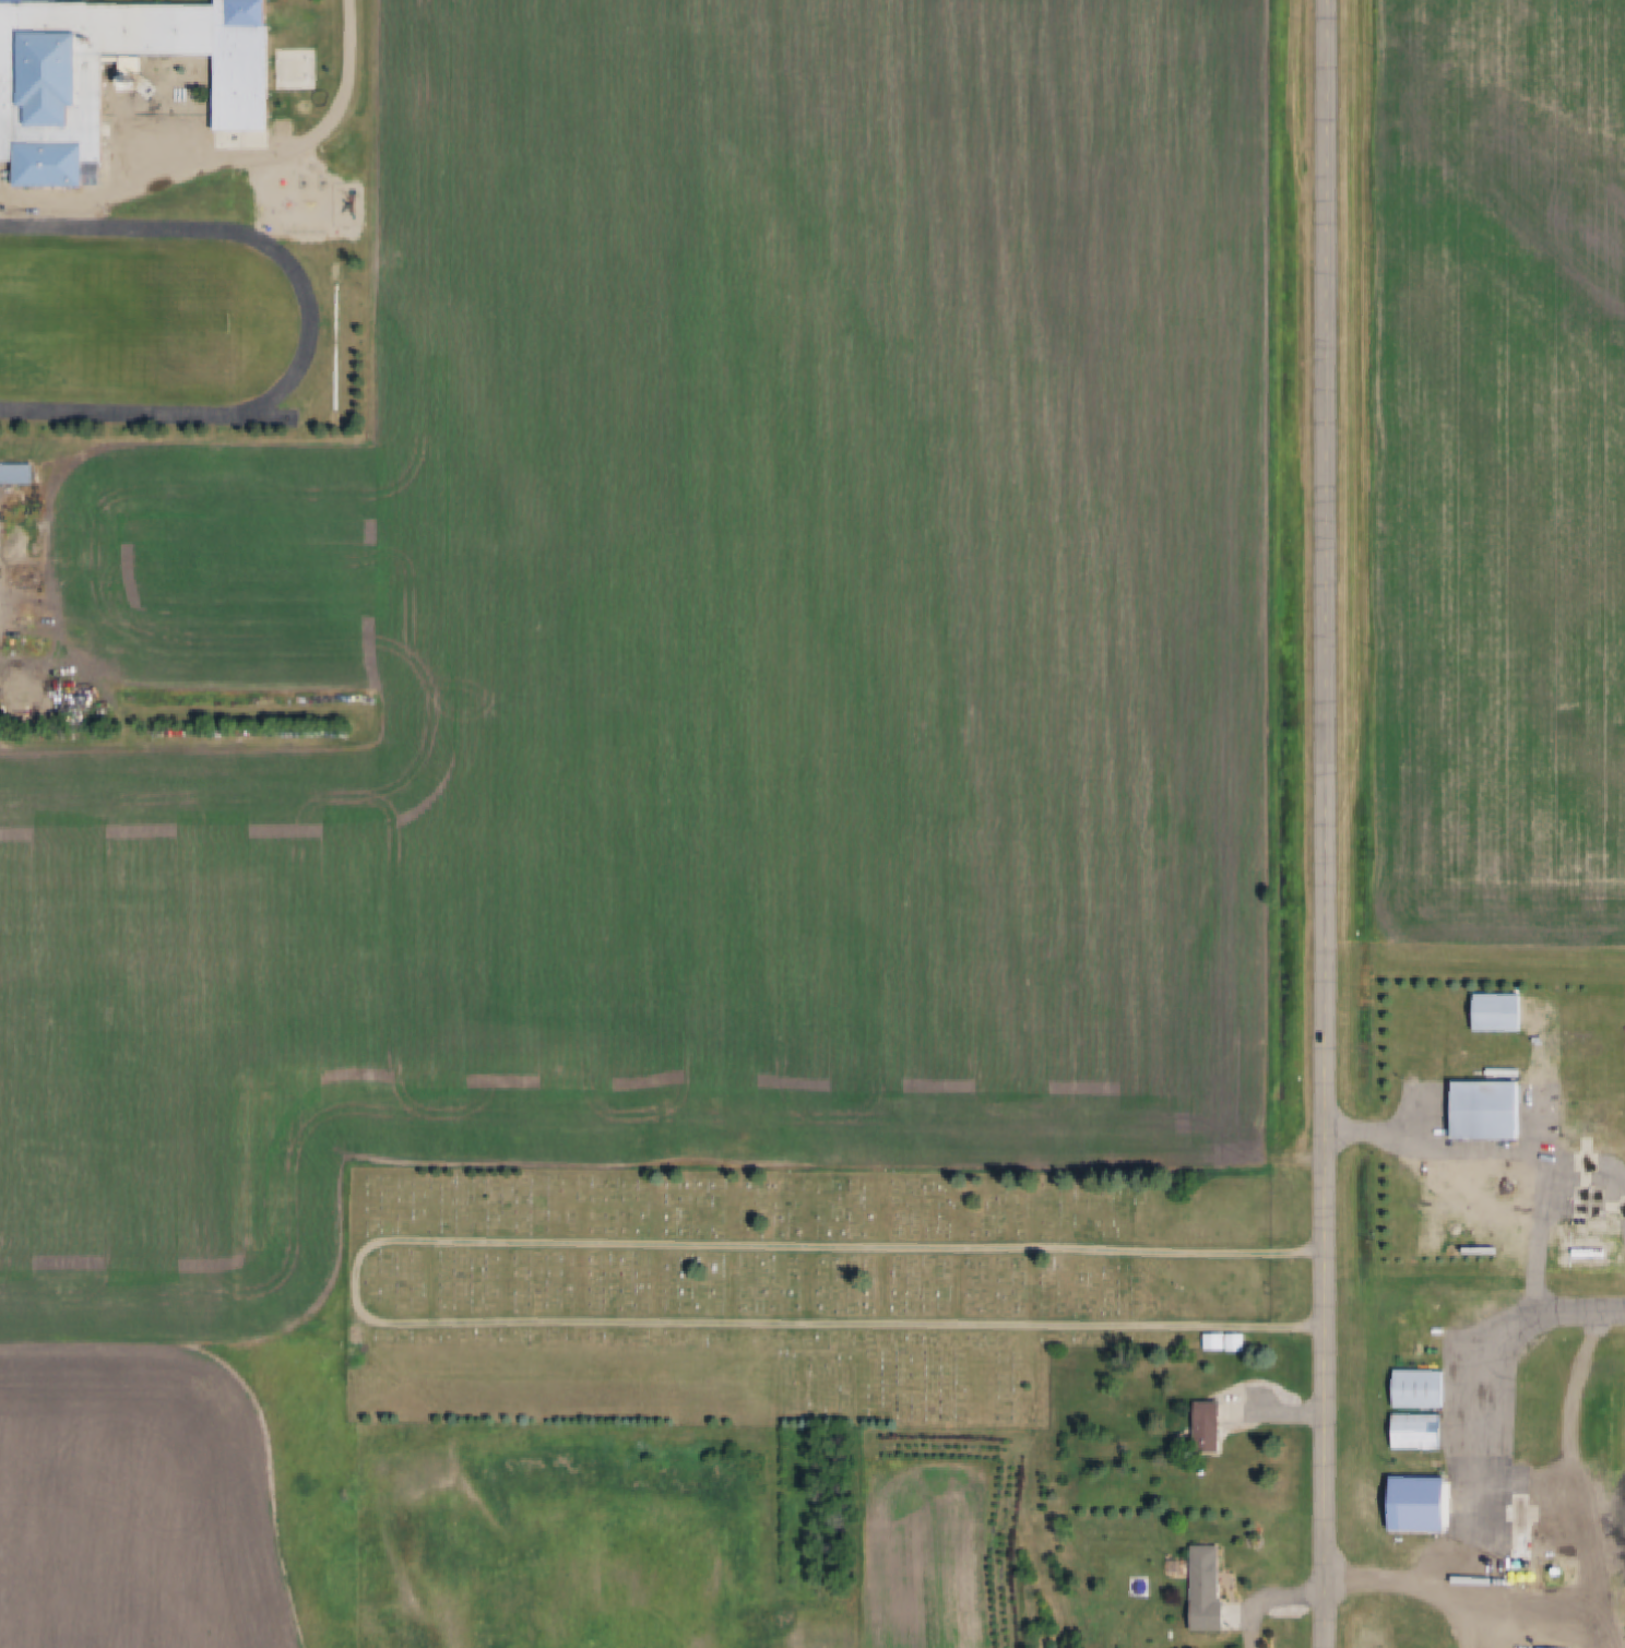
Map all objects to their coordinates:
road: (353, 35)
building: (57, 93)
road: (195, 157)
park: (118, 319)
track: (146, 323)
track: (272, 417)
building: (20, 473)
road: (1329, 823)
airport: (1501, 826)
building: (1496, 1010)
building: (1482, 1107)
road: (1518, 1150)
road: (1589, 1169)
building: (1445, 1229)
storage tank: (1445, 1229)
building: (1455, 1229)
storage tank: (1455, 1229)
building: (1445, 1237)
storage tank: (1445, 1237)
building: (1454, 1240)
storage tank: (1454, 1240)
building: (1454, 1250)
storage tank: (1454, 1250)
building: (1590, 1252)
storage tank: (1590, 1252)
road: (358, 1282)
building: (1219, 1342)
airport taxiway: (1485, 1357)
building: (1419, 1387)
building: (1203, 1423)
airport apron: (1483, 1423)
building: (1418, 1428)
road: (1575, 1439)
building: (1416, 1504)
building: (1611, 1545)
storage tank: (1611, 1545)
building: (1531, 1563)
storage tank: (1531, 1563)
building: (1559, 1570)
storage tank: (1559, 1570)
road: (1414, 1579)
road: (1490, 1582)
building: (1203, 1588)
road: (634, 1592)
road: (1270, 1598)

